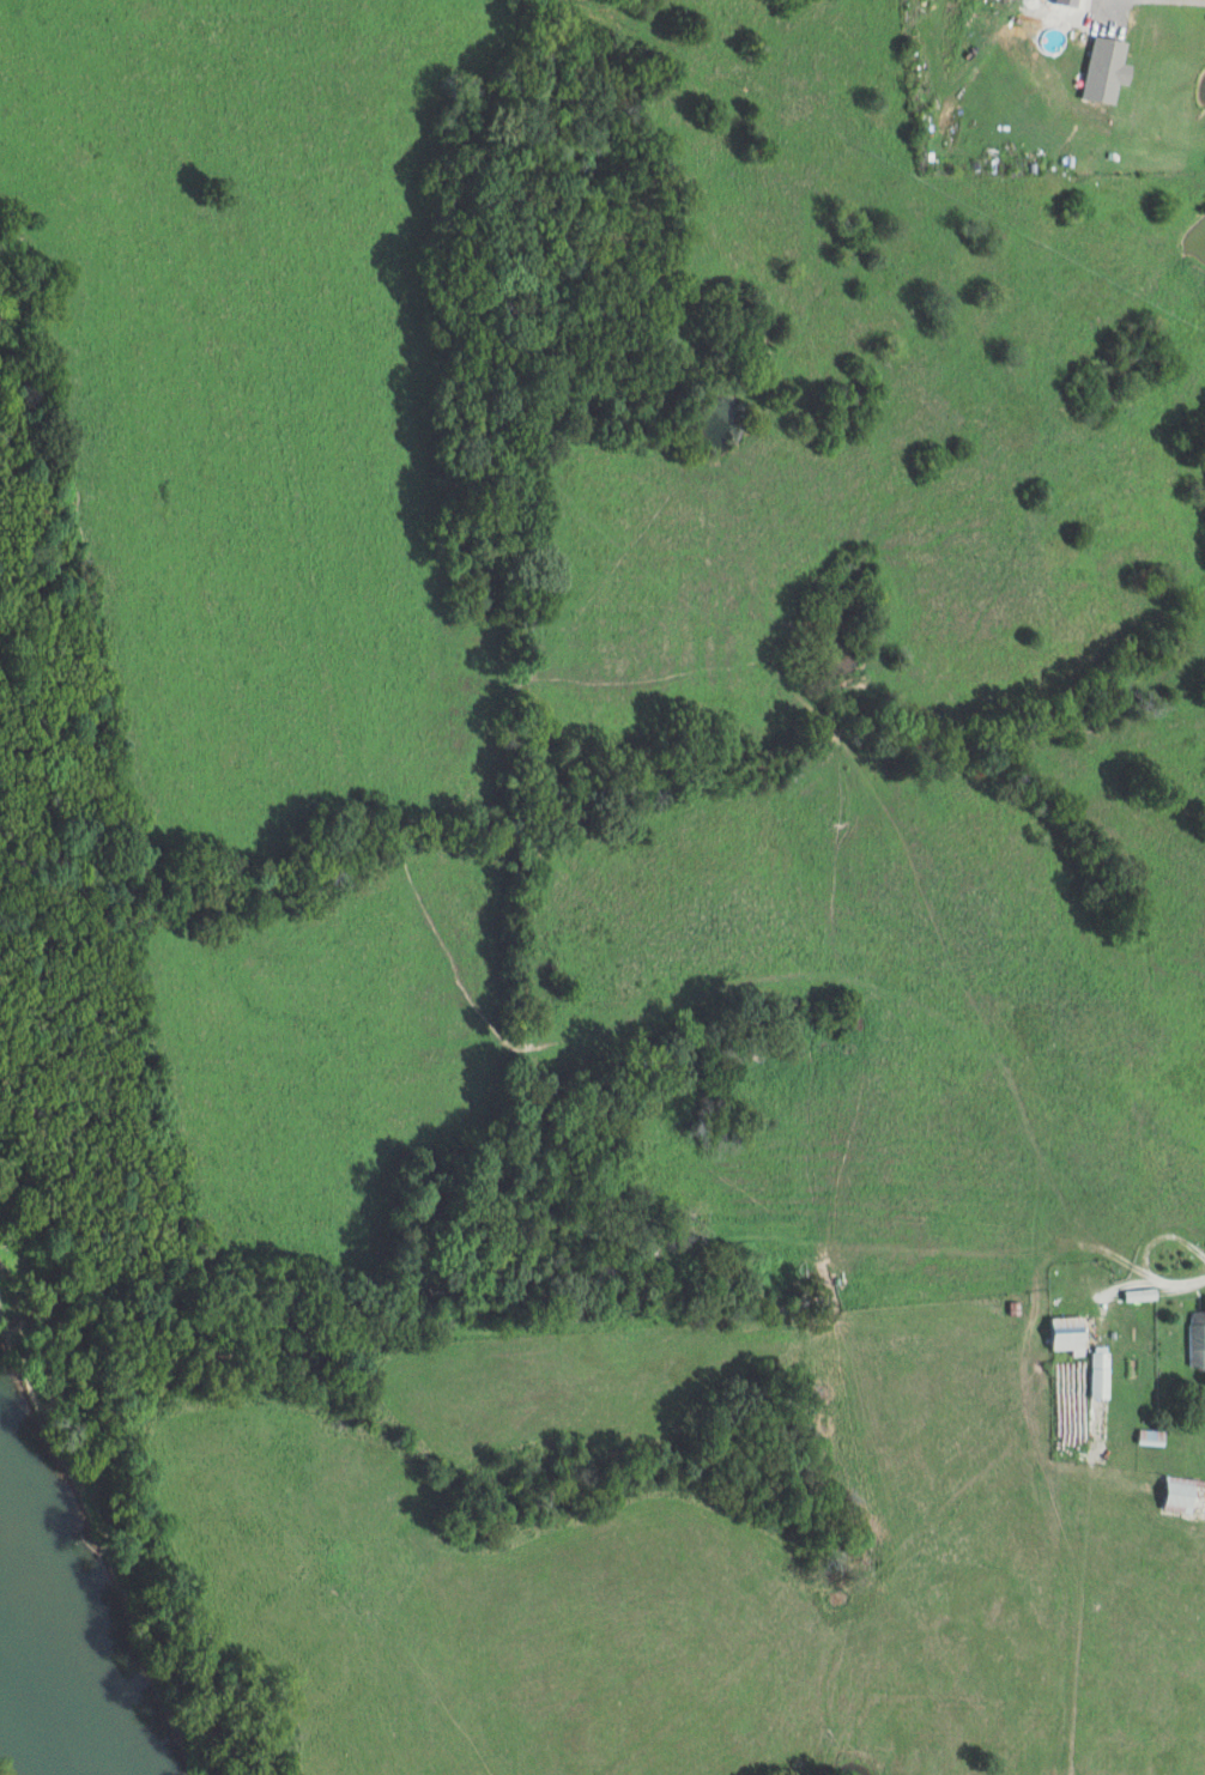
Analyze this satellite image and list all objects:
building: (1107, 71)
road: (1140, 1258)
building: (1068, 1334)
building: (1198, 1338)
building: (1101, 1371)
building: (1182, 1496)
river: (36, 1707)

